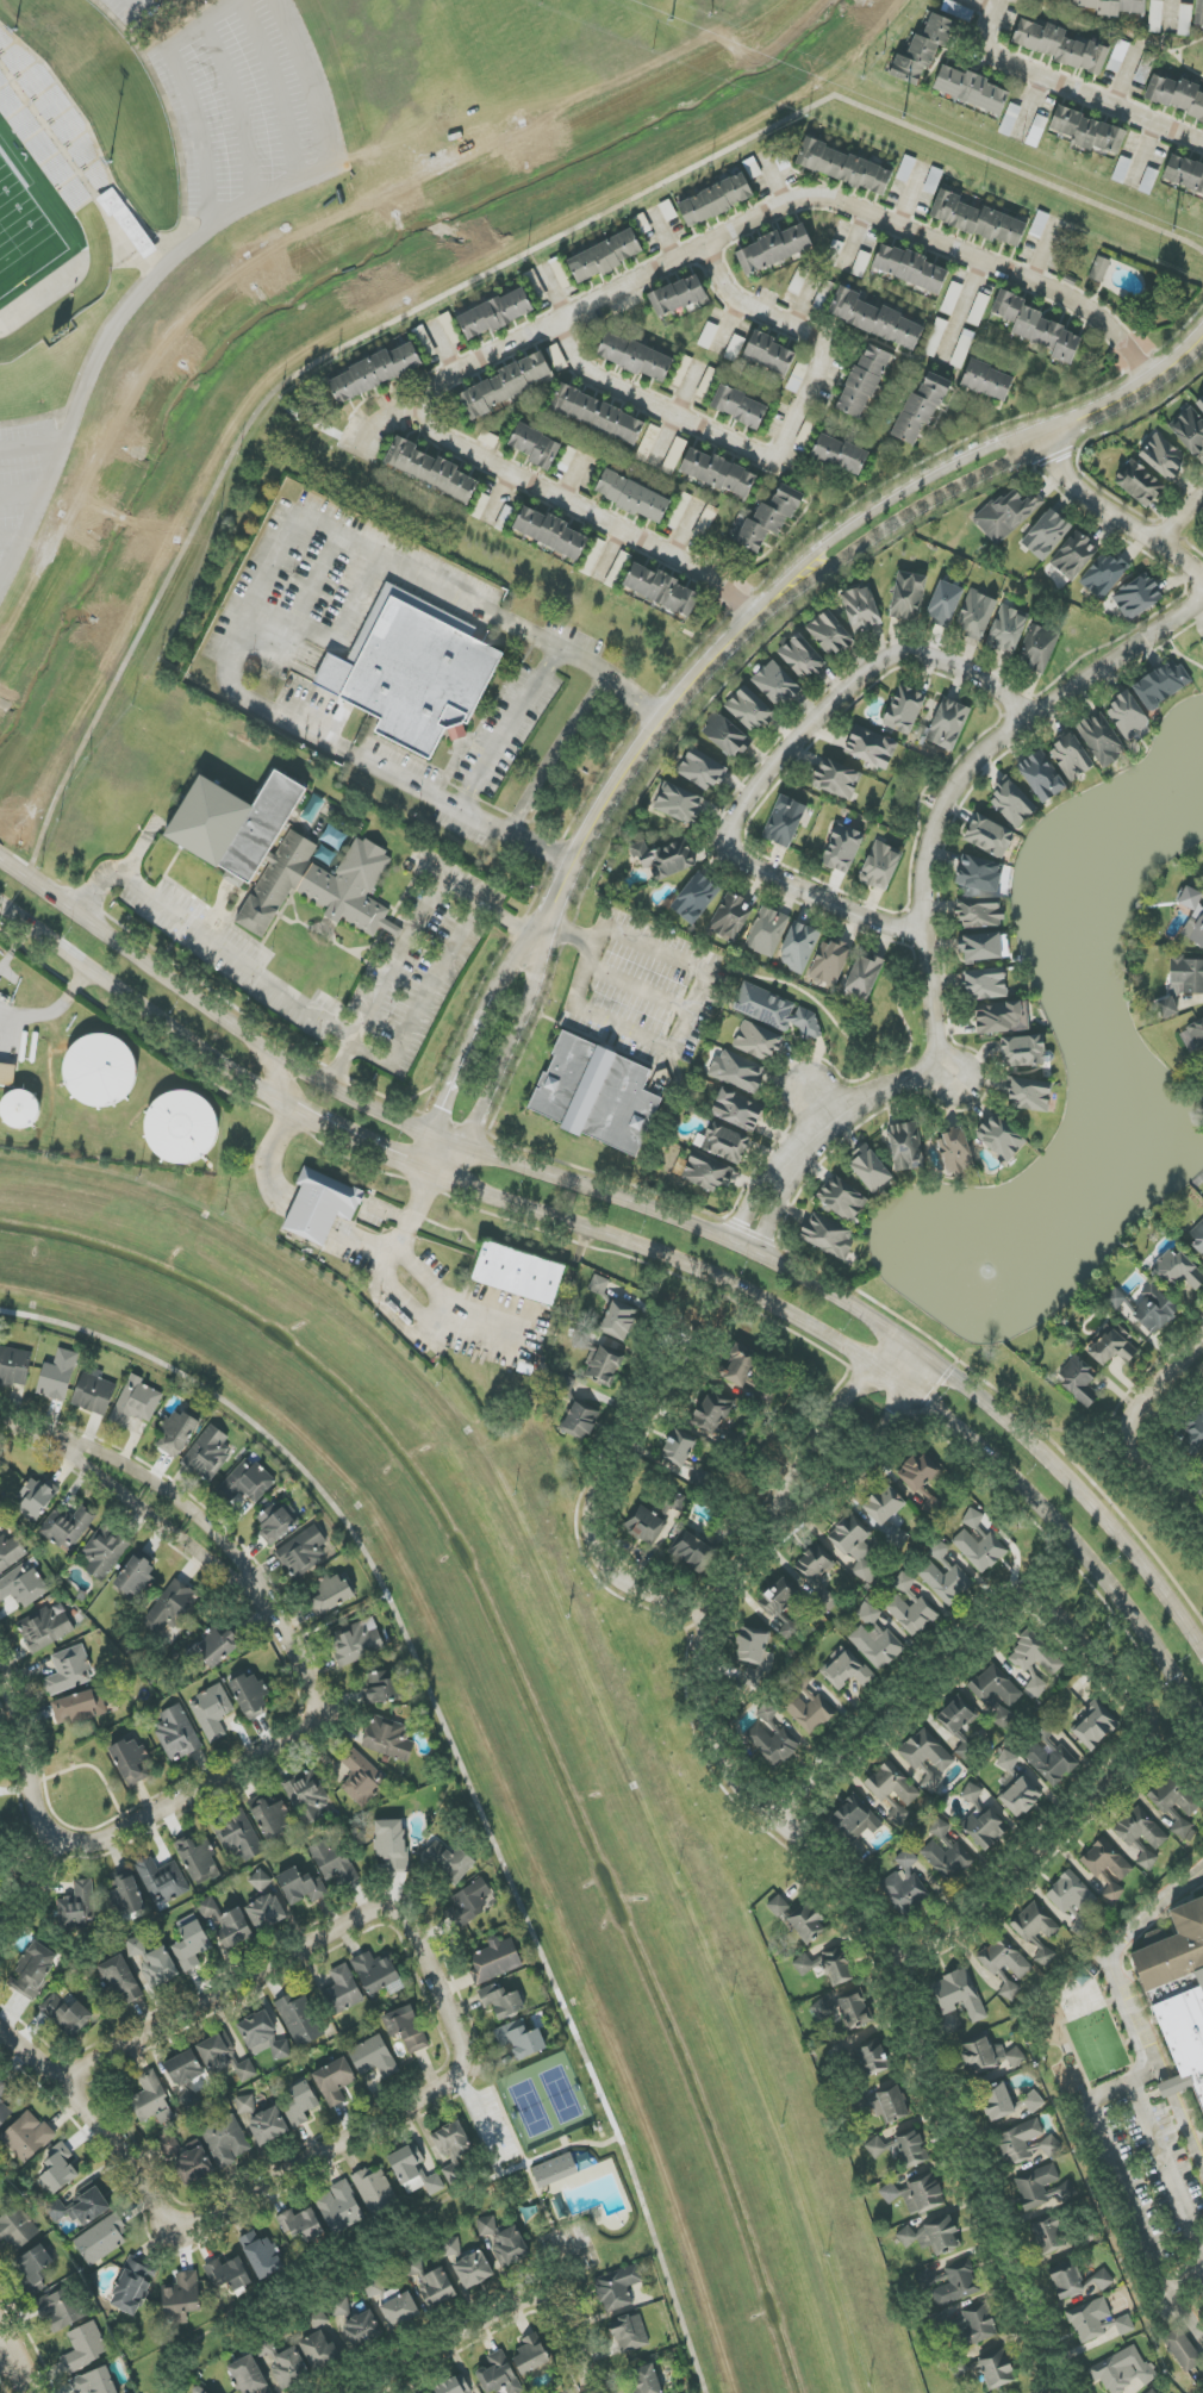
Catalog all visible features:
building: (1114, 6)
road: (141, 10)
building: (1199, 13)
building: (1155, 15)
building: (1184, 19)
building: (1059, 45)
building: (923, 50)
building: (1117, 56)
road: (1127, 76)
road: (1067, 88)
road: (278, 89)
building: (971, 89)
road: (187, 95)
building: (1176, 95)
road: (243, 110)
road: (1031, 111)
building: (1089, 131)
road: (1142, 157)
building: (844, 167)
building: (905, 168)
building: (1185, 174)
road: (775, 180)
road: (912, 197)
building: (716, 200)
building: (978, 220)
building: (129, 223)
building: (1039, 224)
park: (29, 226)
road: (666, 236)
road: (855, 243)
building: (774, 249)
road: (1045, 253)
building: (605, 256)
road: (172, 262)
building: (910, 268)
building: (1099, 269)
road: (487, 276)
road: (553, 292)
road: (609, 294)
building: (678, 295)
building: (495, 313)
road: (964, 313)
building: (877, 319)
building: (1036, 326)
building: (450, 328)
road: (728, 330)
building: (935, 337)
road: (442, 349)
building: (769, 354)
building: (556, 357)
building: (635, 357)
building: (375, 372)
building: (987, 380)
building: (864, 381)
building: (506, 385)
building: (1201, 404)
building: (740, 406)
building: (920, 411)
building: (600, 416)
road: (677, 418)
road: (381, 419)
building: (1190, 431)
building: (648, 443)
road: (30, 445)
building: (536, 445)
road: (780, 451)
building: (840, 454)
building: (674, 456)
building: (1163, 456)
building: (430, 469)
building: (718, 473)
road: (573, 479)
building: (1139, 482)
road: (18, 497)
building: (632, 497)
road: (499, 501)
building: (1006, 515)
road: (1114, 517)
building: (771, 518)
road: (1179, 522)
road: (687, 530)
building: (549, 531)
building: (1046, 534)
road: (7, 544)
building: (1074, 555)
road: (610, 556)
road: (273, 562)
road: (815, 566)
building: (1104, 575)
building: (661, 588)
building: (908, 597)
building: (1137, 597)
road: (306, 598)
building: (945, 603)
building: (861, 609)
building: (976, 615)
building: (1008, 629)
building: (830, 634)
building: (1202, 641)
building: (1039, 648)
road: (1177, 652)
building: (802, 656)
road: (584, 660)
building: (416, 674)
building: (777, 684)
building: (1163, 684)
building: (749, 710)
building: (904, 710)
building: (1127, 716)
building: (948, 724)
road: (510, 727)
building: (728, 737)
building: (1101, 741)
building: (872, 747)
road: (560, 753)
building: (1071, 756)
road: (773, 766)
building: (702, 769)
building: (1041, 777)
building: (836, 779)
building: (679, 803)
building: (1012, 803)
road: (461, 806)
building: (785, 821)
building: (990, 836)
building: (247, 842)
building: (842, 848)
road: (927, 859)
building: (666, 860)
building: (880, 866)
building: (978, 877)
building: (351, 889)
road: (475, 898)
building: (696, 898)
building: (1190, 898)
building: (979, 912)
building: (731, 917)
road: (509, 924)
building: (768, 933)
building: (798, 947)
building: (984, 947)
road: (14, 951)
road: (233, 954)
building: (829, 962)
building: (1185, 976)
building: (862, 979)
building: (986, 983)
road: (638, 990)
parking lot: (643, 991)
road: (693, 1008)
building: (1167, 1008)
building: (775, 1010)
road: (214, 1014)
building: (1002, 1017)
building: (1196, 1034)
building: (758, 1041)
road: (472, 1042)
building: (1023, 1051)
road: (872, 1057)
road: (505, 1058)
road: (814, 1064)
road: (945, 1068)
building: (101, 1071)
building: (738, 1071)
building: (7, 1073)
road: (282, 1082)
road: (849, 1083)
building: (1029, 1095)
building: (599, 1096)
road: (811, 1105)
building: (20, 1109)
building: (737, 1110)
building: (182, 1126)
building: (1002, 1138)
building: (725, 1142)
building: (905, 1146)
building: (955, 1149)
road: (269, 1154)
building: (869, 1169)
building: (708, 1172)
road: (752, 1198)
building: (842, 1198)
building: (322, 1205)
road: (779, 1213)
building: (828, 1235)
building: (1198, 1245)
road: (646, 1251)
building: (1178, 1270)
building: (518, 1273)
building: (599, 1285)
road: (397, 1292)
building: (1115, 1300)
building: (618, 1321)
road: (869, 1321)
building: (1112, 1346)
road: (884, 1352)
building: (14, 1365)
building: (605, 1365)
building: (741, 1365)
building: (58, 1375)
building: (1079, 1381)
building: (563, 1383)
building: (763, 1392)
building: (94, 1394)
building: (136, 1402)
building: (712, 1414)
building: (579, 1421)
road: (1127, 1426)
building: (177, 1432)
building: (1195, 1433)
building: (678, 1448)
building: (207, 1453)
building: (918, 1471)
building: (247, 1482)
building: (36, 1500)
road: (176, 1502)
road: (592, 1508)
building: (886, 1513)
road: (1197, 1518)
building: (279, 1521)
building: (652, 1522)
building: (67, 1527)
road: (182, 1541)
building: (978, 1543)
building: (856, 1547)
building: (105, 1551)
building: (10, 1552)
building: (303, 1552)
building: (692, 1552)
road: (818, 1573)
building: (136, 1576)
building: (817, 1576)
building: (943, 1576)
building: (21, 1585)
building: (331, 1594)
building: (783, 1604)
building: (172, 1607)
building: (910, 1607)
road: (335, 1621)
building: (46, 1627)
building: (874, 1639)
building: (357, 1643)
building: (752, 1646)
building: (214, 1647)
building: (1035, 1654)
building: (69, 1670)
building: (848, 1671)
road: (935, 1677)
building: (381, 1687)
building: (1036, 1688)
building: (996, 1690)
building: (250, 1695)
building: (805, 1702)
building: (79, 1707)
building: (212, 1712)
building: (955, 1715)
building: (1093, 1726)
building: (1043, 1730)
building: (176, 1733)
building: (388, 1738)
building: (772, 1743)
road: (20, 1745)
building: (925, 1752)
road: (457, 1761)
building: (131, 1762)
building: (1006, 1762)
building: (1052, 1763)
road: (93, 1769)
building: (362, 1778)
building: (931, 1782)
building: (891, 1784)
building: (1021, 1796)
road: (183, 1797)
building: (307, 1797)
building: (1176, 1805)
building: (269, 1816)
building: (854, 1819)
building: (985, 1828)
road: (1070, 1828)
building: (1140, 1828)
building: (238, 1837)
building: (391, 1844)
building: (945, 1852)
road: (18, 1857)
road: (818, 1857)
building: (199, 1858)
building: (1146, 1858)
building: (332, 1861)
building: (1105, 1861)
building: (449, 1862)
building: (162, 1880)
building: (260, 1881)
building: (905, 1883)
building: (300, 1887)
building: (1112, 1890)
building: (126, 1894)
building: (1071, 1895)
building: (468, 1903)
building: (77, 1906)
building: (777, 1906)
building: (207, 1907)
building: (267, 1912)
building: (805, 1920)
building: (236, 1926)
building: (192, 1945)
building: (495, 1961)
building: (152, 1962)
building: (804, 1964)
building: (1006, 1965)
road: (262, 1968)
building: (836, 1968)
building: (33, 1970)
building: (375, 1973)
building: (120, 1978)
building: (343, 1990)
building: (960, 1995)
building: (1188, 1998)
building: (501, 2001)
building: (824, 2011)
building: (853, 2011)
building: (68, 2014)
building: (299, 2019)
building: (406, 2029)
building: (263, 2037)
building: (521, 2039)
building: (989, 2055)
building: (225, 2057)
building: (374, 2057)
building: (871, 2058)
road: (1164, 2070)
building: (185, 2076)
building: (334, 2081)
road: (1116, 2086)
road: (461, 2088)
road: (1172, 2088)
building: (151, 2099)
park: (544, 2102)
building: (1005, 2102)
building: (245, 2104)
building: (300, 2104)
building: (884, 2104)
building: (4, 2105)
road: (92, 2124)
building: (268, 2126)
road: (484, 2129)
parking lot: (490, 2129)
road: (1189, 2130)
road: (361, 2131)
building: (27, 2137)
building: (226, 2140)
building: (451, 2140)
building: (1027, 2143)
building: (169, 2144)
road: (562, 2144)
road: (569, 2148)
building: (875, 2148)
building: (912, 2149)
building: (195, 2165)
road: (1167, 2167)
park: (556, 2168)
building: (58, 2170)
building: (555, 2170)
building: (414, 2171)
building: (1035, 2186)
building: (375, 2191)
building: (915, 2194)
building: (82, 2208)
building: (300, 2224)
building: (487, 2225)
building: (17, 2229)
building: (1048, 2235)
building: (933, 2237)
building: (101, 2239)
building: (511, 2248)
building: (261, 2255)
building: (35, 2269)
building: (473, 2269)
building: (229, 2273)
building: (1077, 2282)
building: (950, 2283)
building: (133, 2286)
building: (374, 2288)
building: (617, 2288)
building: (437, 2289)
building: (182, 2294)
building: (61, 2310)
building: (399, 2310)
building: (1089, 2319)
building: (1124, 2325)
building: (977, 2326)
road: (500, 2327)
building: (362, 2329)
building: (630, 2333)
building: (85, 2348)
building: (1183, 2349)
building: (318, 2350)
building: (531, 2355)
road: (7, 2358)
road: (17, 2360)
building: (291, 2368)
building: (996, 2369)
building: (1122, 2370)
building: (498, 2374)
building: (249, 2375)
building: (648, 2380)
building: (94, 2382)
road: (2, 2385)
building: (453, 2386)
building: (430, 2392)
building: (1154, 2392)

